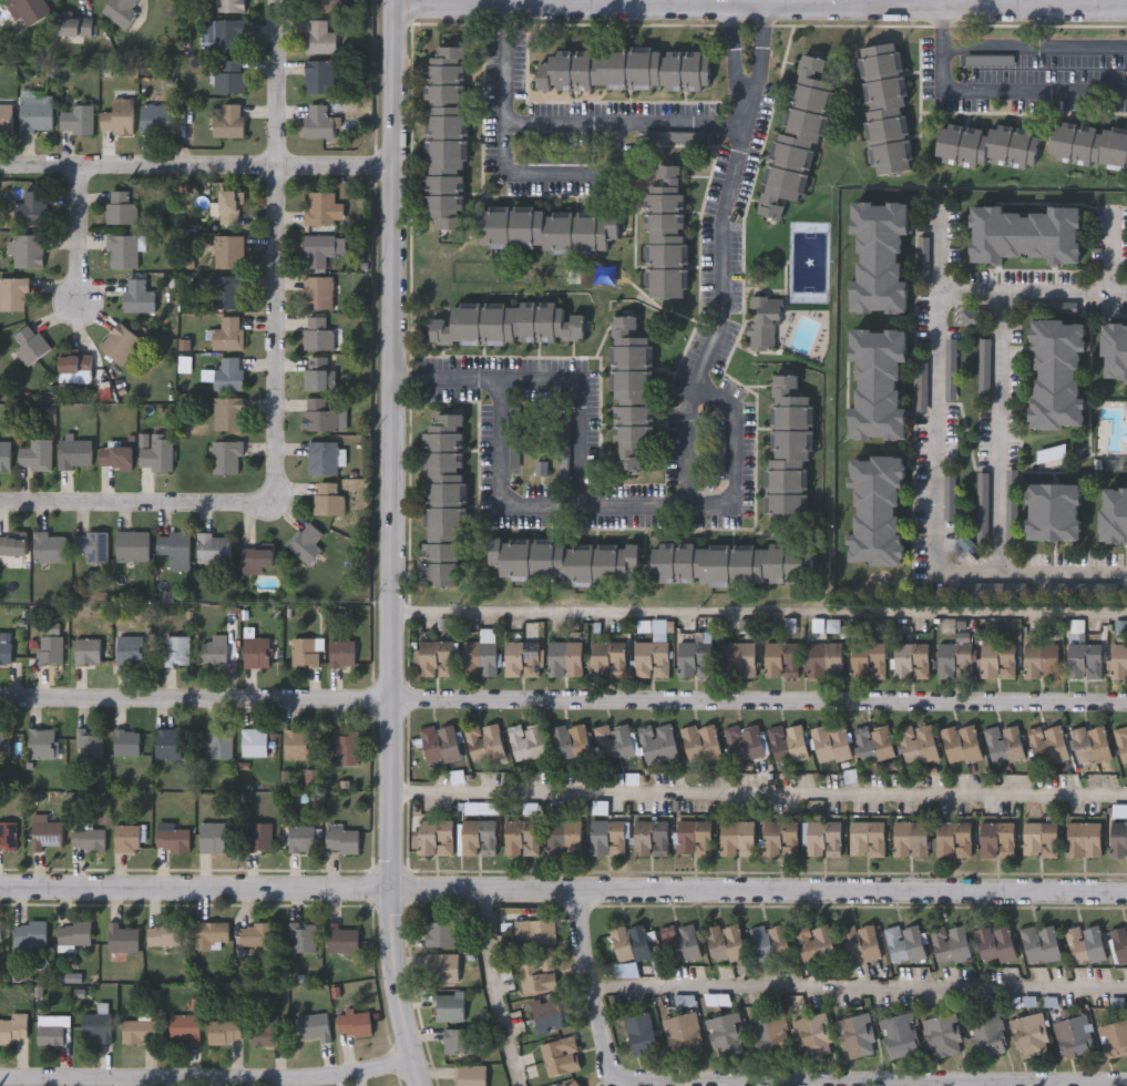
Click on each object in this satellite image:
building: (229, 6)
building: (326, 6)
building: (30, 9)
building: (121, 11)
building: (75, 27)
building: (228, 35)
building: (319, 37)
road: (1034, 45)
road: (509, 55)
building: (623, 66)
building: (228, 75)
building: (319, 75)
road: (993, 91)
building: (883, 105)
road: (683, 110)
building: (35, 113)
building: (6, 115)
building: (117, 116)
building: (76, 119)
building: (156, 119)
building: (228, 121)
building: (321, 121)
building: (443, 134)
building: (795, 134)
building: (985, 142)
building: (1088, 143)
road: (196, 163)
road: (570, 164)
building: (120, 206)
building: (230, 206)
building: (324, 207)
building: (29, 208)
building: (545, 227)
building: (663, 228)
building: (1027, 230)
road: (76, 232)
road: (938, 248)
road: (275, 249)
building: (318, 249)
building: (27, 250)
building: (121, 250)
road: (1111, 250)
building: (226, 252)
building: (880, 254)
road: (1031, 290)
building: (226, 291)
building: (317, 293)
building: (13, 294)
building: (137, 295)
building: (760, 319)
building: (505, 321)
building: (227, 334)
building: (319, 334)
building: (120, 342)
building: (29, 345)
building: (1115, 348)
building: (75, 368)
building: (1058, 371)
building: (320, 372)
building: (228, 373)
building: (879, 380)
building: (628, 390)
building: (227, 413)
building: (320, 414)
road: (373, 431)
road: (934, 431)
road: (996, 432)
road: (746, 450)
building: (787, 450)
building: (75, 452)
building: (35, 454)
building: (6, 455)
building: (116, 455)
building: (156, 455)
road: (689, 455)
building: (225, 457)
building: (322, 457)
road: (500, 477)
building: (328, 498)
building: (440, 498)
road: (135, 501)
building: (1008, 504)
building: (877, 508)
building: (1054, 510)
building: (1115, 512)
building: (305, 542)
road: (390, 544)
building: (13, 545)
building: (92, 545)
building: (132, 545)
building: (50, 547)
building: (174, 547)
building: (214, 549)
building: (563, 559)
building: (258, 561)
building: (731, 562)
road: (1028, 574)
road: (758, 602)
building: (49, 650)
building: (131, 650)
building: (177, 650)
building: (88, 652)
building: (215, 652)
building: (306, 652)
building: (6, 653)
building: (257, 653)
building: (342, 654)
building: (436, 658)
building: (479, 658)
building: (521, 658)
building: (563, 658)
building: (607, 658)
building: (650, 658)
building: (694, 658)
building: (737, 658)
building: (780, 658)
building: (953, 658)
building: (824, 659)
building: (1041, 659)
building: (1118, 659)
building: (868, 660)
building: (910, 660)
building: (997, 660)
building: (1083, 660)
road: (13, 695)
road: (576, 698)
building: (526, 740)
building: (571, 740)
building: (483, 741)
building: (613, 741)
building: (657, 741)
building: (742, 741)
building: (916, 741)
building: (9, 742)
building: (132, 742)
building: (255, 742)
building: (699, 742)
building: (787, 742)
building: (830, 742)
building: (873, 742)
building: (960, 742)
building: (1003, 742)
building: (1088, 742)
building: (1120, 742)
building: (43, 744)
building: (89, 744)
building: (168, 745)
building: (219, 745)
building: (298, 745)
building: (439, 745)
building: (1047, 745)
building: (347, 748)
road: (758, 782)
building: (47, 836)
building: (8, 837)
building: (477, 837)
building: (563, 837)
building: (212, 838)
building: (259, 838)
building: (434, 838)
building: (520, 838)
building: (607, 838)
building: (694, 838)
building: (865, 838)
building: (126, 839)
building: (172, 839)
building: (301, 839)
building: (649, 839)
building: (737, 839)
building: (779, 839)
building: (821, 839)
building: (910, 839)
building: (953, 839)
building: (1039, 839)
building: (89, 840)
building: (341, 840)
building: (996, 840)
building: (1084, 840)
building: (1118, 840)
road: (563, 887)
building: (532, 932)
building: (0, 933)
building: (74, 933)
building: (30, 934)
building: (441, 934)
building: (164, 935)
building: (212, 935)
building: (122, 939)
building: (258, 939)
building: (304, 939)
building: (342, 940)
building: (628, 942)
building: (768, 942)
building: (679, 943)
building: (724, 943)
building: (858, 943)
building: (903, 943)
building: (951, 943)
building: (1041, 943)
building: (1085, 943)
building: (814, 944)
building: (994, 944)
building: (1118, 945)
building: (444, 969)
building: (534, 974)
road: (857, 985)
road: (491, 987)
building: (451, 1007)
building: (546, 1014)
building: (355, 1024)
building: (315, 1027)
building: (13, 1028)
building: (95, 1028)
building: (185, 1028)
building: (52, 1032)
building: (139, 1032)
building: (226, 1032)
building: (680, 1033)
building: (810, 1033)
building: (985, 1033)
building: (639, 1034)
building: (724, 1034)
building: (1026, 1034)
building: (264, 1035)
building: (856, 1035)
building: (898, 1035)
building: (942, 1035)
building: (769, 1036)
building: (1073, 1036)
building: (1113, 1038)
building: (459, 1042)
building: (559, 1056)
road: (206, 1070)
building: (471, 1076)
road: (773, 1078)
road: (956, 1082)
building: (572, 1084)

